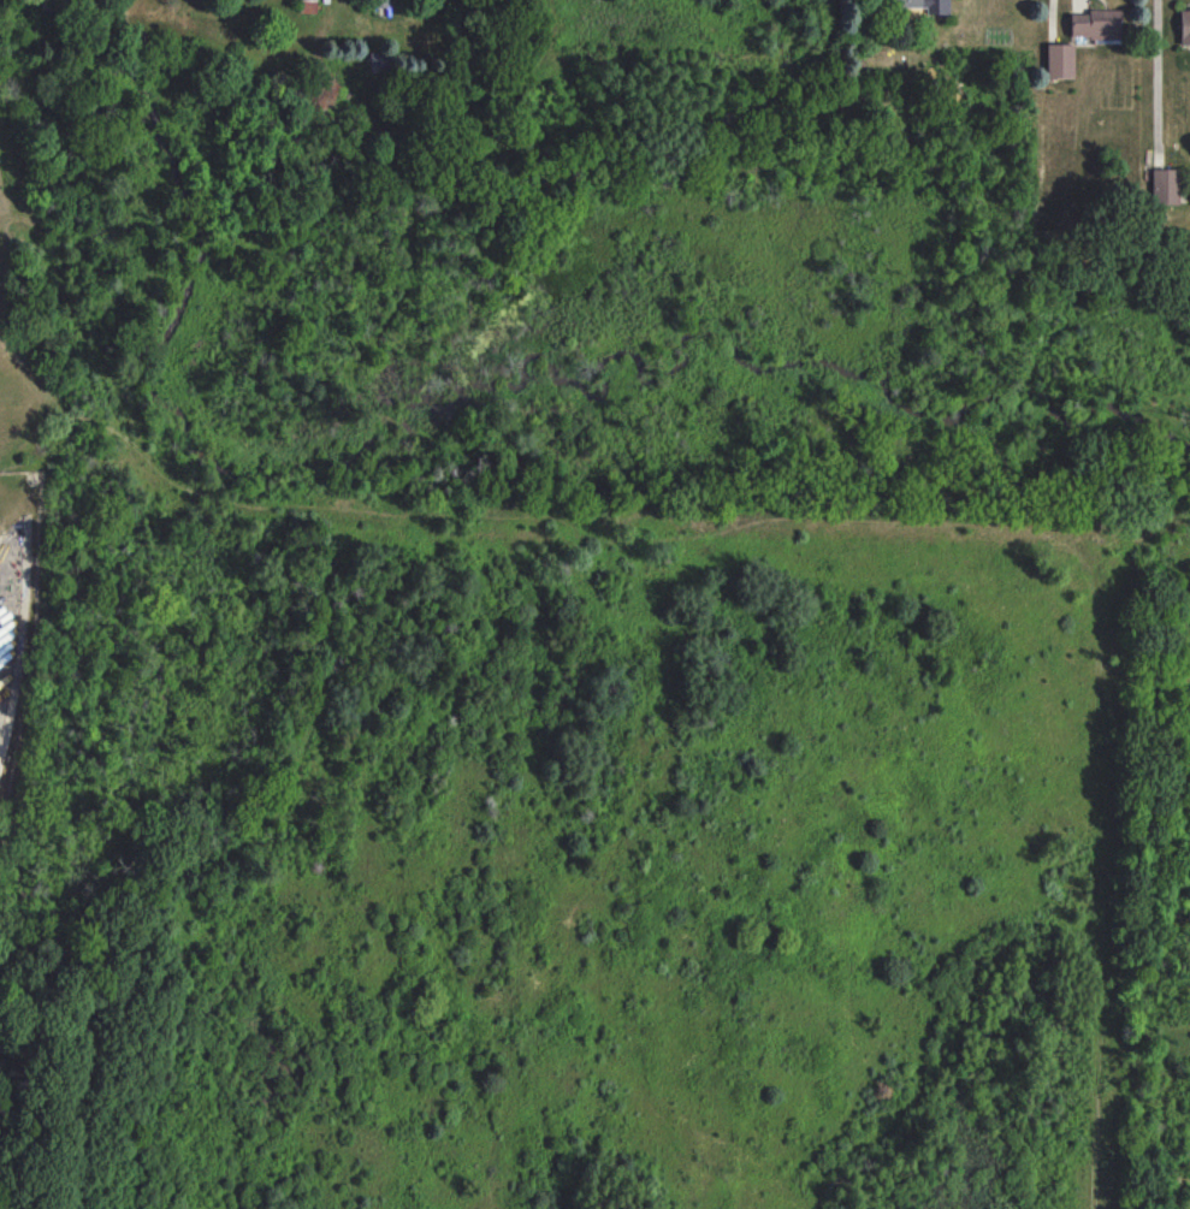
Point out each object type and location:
building: (381, 2)
building: (924, 5)
road: (1079, 5)
building: (308, 6)
building: (1095, 24)
building: (1184, 26)
building: (1059, 60)
building: (377, 61)
road: (1156, 82)
building: (1166, 185)

